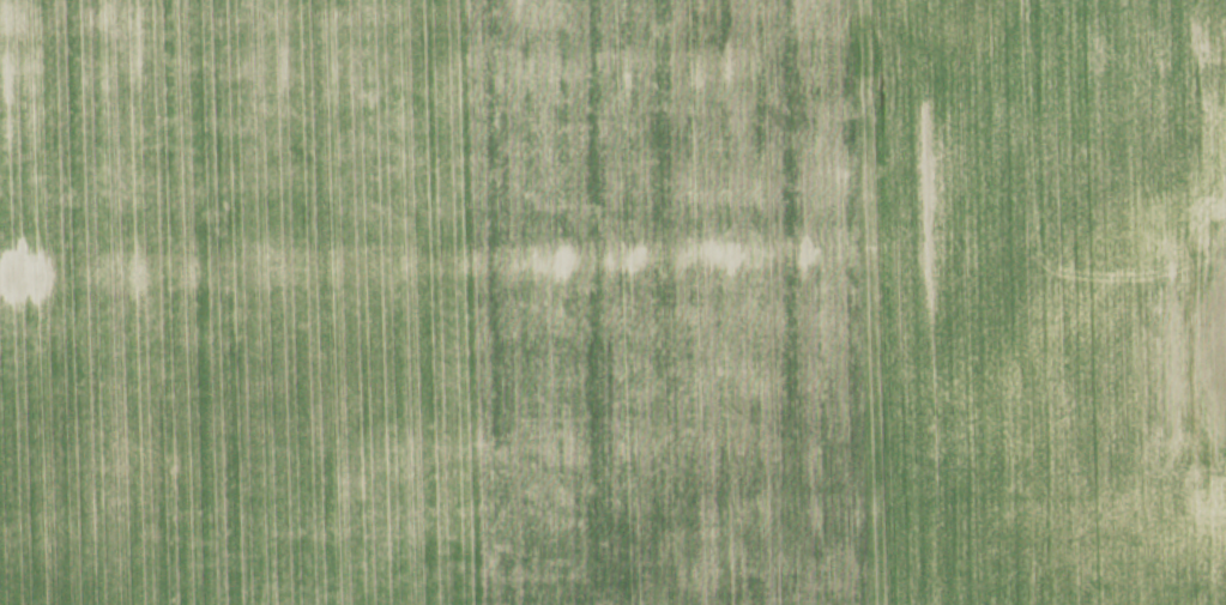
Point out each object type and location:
crop: (612, 302)

